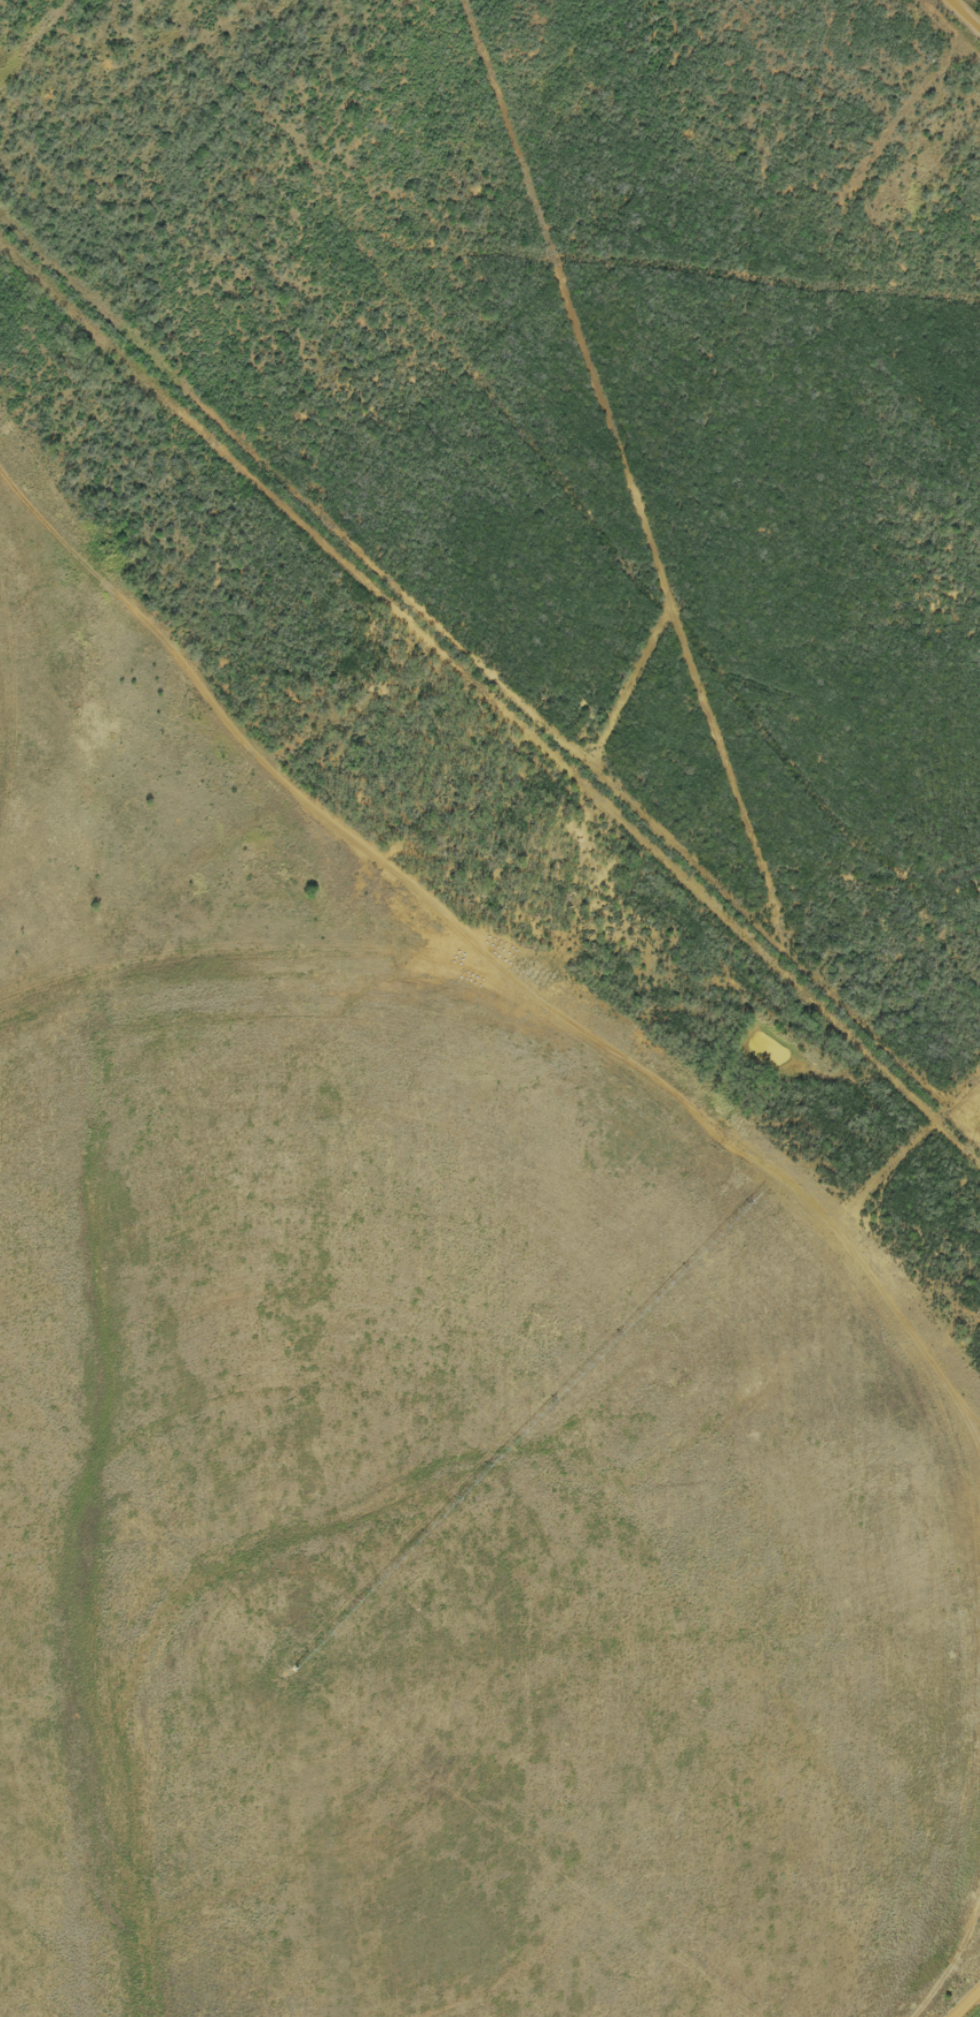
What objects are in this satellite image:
road: (932, 45)
road: (490, 696)
road: (965, 2001)

